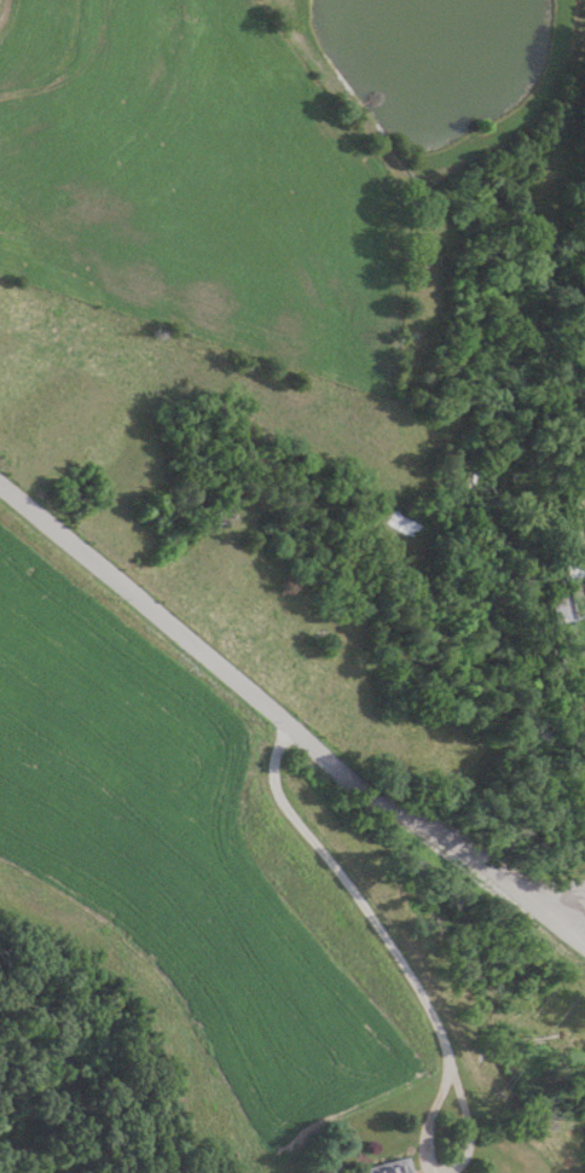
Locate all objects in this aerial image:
building: (568, 598)
road: (284, 726)
road: (418, 994)
building: (396, 1167)

